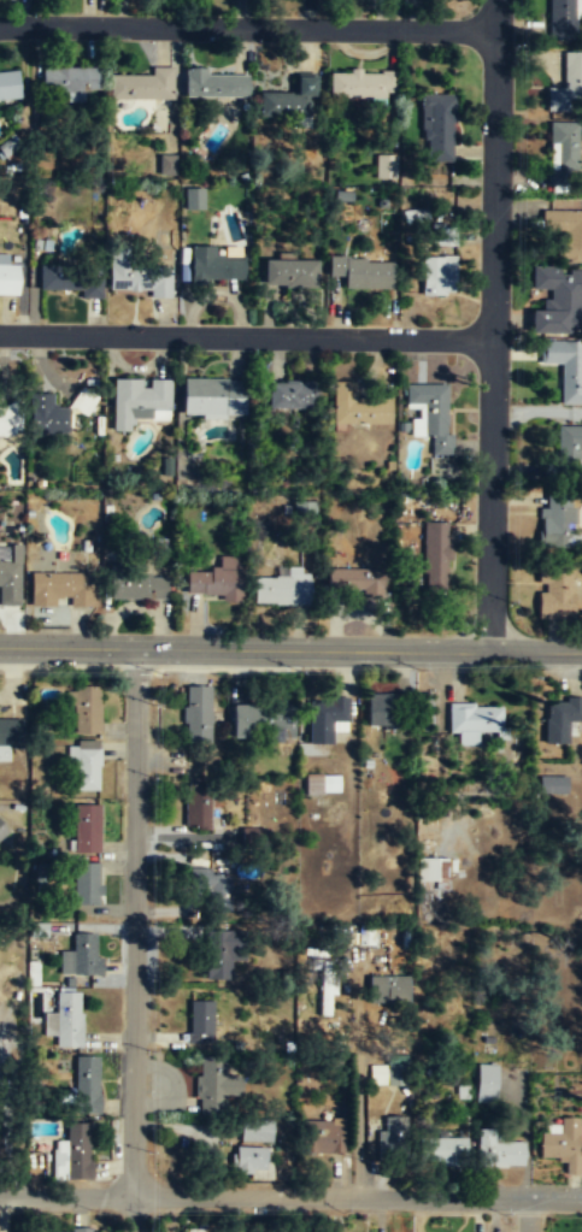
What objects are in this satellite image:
building: (564, 13)
road: (494, 16)
road: (246, 26)
building: (71, 77)
building: (10, 83)
building: (143, 83)
building: (216, 86)
building: (360, 86)
building: (565, 86)
building: (293, 98)
building: (434, 125)
building: (560, 159)
building: (167, 164)
building: (383, 165)
building: (194, 198)
building: (568, 236)
building: (216, 265)
building: (360, 273)
building: (288, 276)
building: (436, 277)
building: (137, 278)
building: (8, 281)
building: (72, 281)
building: (558, 303)
road: (245, 337)
road: (489, 341)
building: (565, 369)
building: (292, 394)
building: (213, 395)
building: (137, 399)
building: (357, 406)
building: (431, 413)
building: (49, 414)
building: (10, 418)
building: (569, 446)
building: (557, 521)
building: (434, 554)
building: (10, 577)
building: (355, 580)
building: (214, 584)
building: (139, 586)
building: (282, 590)
building: (61, 591)
building: (554, 594)
street lamp: (507, 601)
road: (290, 649)
street lamp: (158, 671)
building: (383, 708)
building: (87, 711)
building: (198, 711)
building: (327, 717)
building: (475, 717)
building: (562, 718)
building: (261, 723)
building: (10, 736)
building: (87, 766)
building: (321, 784)
building: (554, 784)
building: (198, 806)
building: (87, 829)
building: (2, 831)
building: (253, 833)
building: (431, 873)
building: (88, 884)
building: (211, 885)
street lamp: (149, 921)
road: (134, 939)
building: (223, 954)
building: (86, 956)
building: (327, 985)
building: (389, 989)
building: (67, 1019)
building: (200, 1022)
building: (49, 1024)
building: (389, 1072)
building: (487, 1081)
building: (87, 1084)
building: (213, 1086)
road: (359, 1095)
building: (255, 1132)
building: (390, 1137)
building: (323, 1139)
building: (562, 1145)
building: (447, 1151)
building: (499, 1153)
building: (74, 1154)
building: (251, 1163)
road: (290, 1197)
street lamp: (233, 1212)
street lamp: (505, 1213)
road: (528, 1215)
building: (82, 1230)

